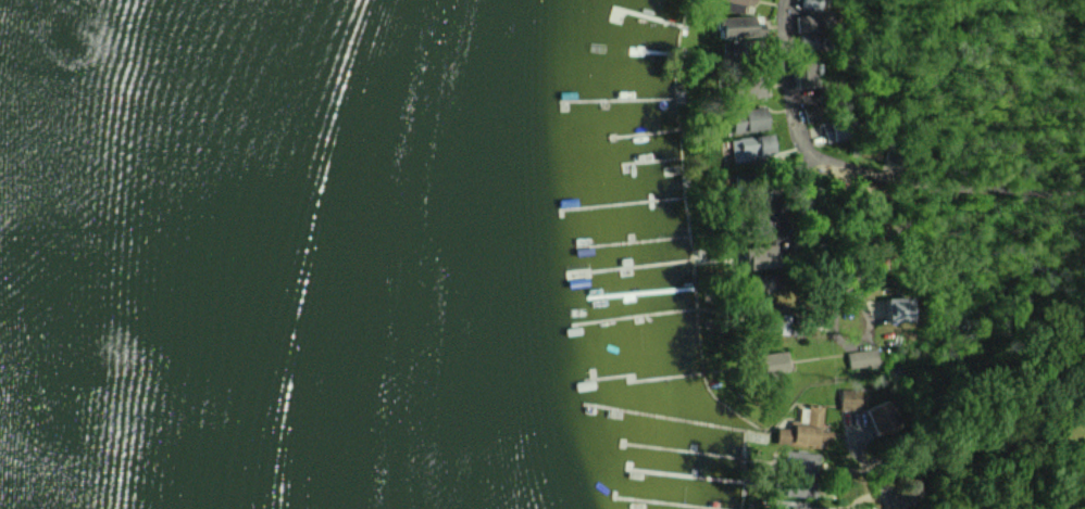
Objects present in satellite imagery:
building: (739, 1)
building: (807, 23)
building: (743, 26)
building: (756, 88)
building: (750, 120)
building: (752, 147)
road: (868, 169)
road: (880, 247)
building: (765, 257)
building: (901, 308)
building: (862, 358)
building: (776, 361)
building: (850, 399)
building: (807, 430)
road: (989, 461)

